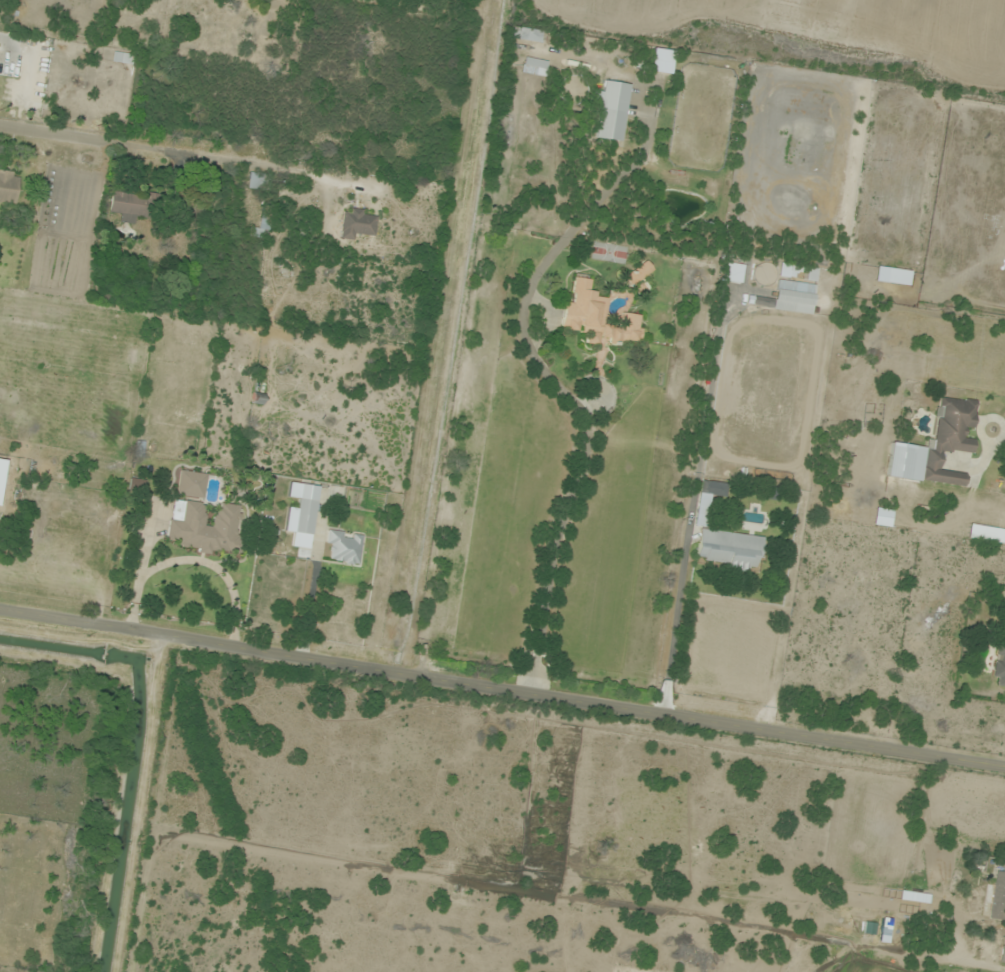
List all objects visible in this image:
building: (123, 58)
building: (533, 66)
building: (612, 111)
building: (260, 182)
building: (9, 188)
building: (133, 207)
building: (358, 224)
building: (263, 228)
building: (638, 274)
building: (795, 297)
building: (597, 318)
building: (937, 446)
building: (192, 485)
building: (304, 507)
building: (204, 526)
building: (343, 547)
building: (730, 549)
building: (1000, 667)
road: (502, 690)
building: (998, 895)
building: (1002, 954)
road: (964, 965)

